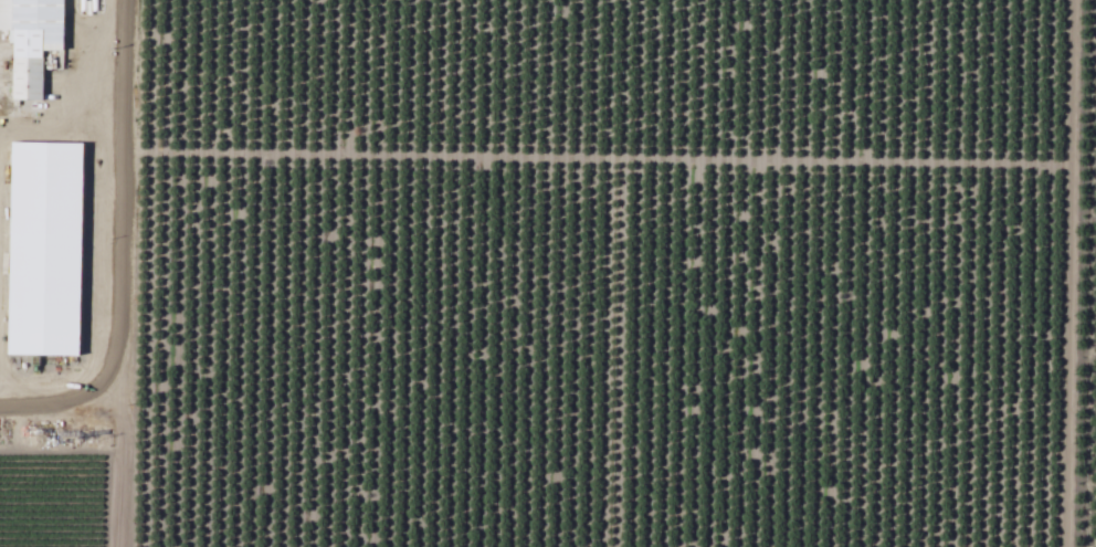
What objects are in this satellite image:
building: (33, 40)
road: (124, 220)
building: (65, 241)
crop: (53, 270)
crop: (601, 273)
road: (62, 403)
road: (122, 494)

